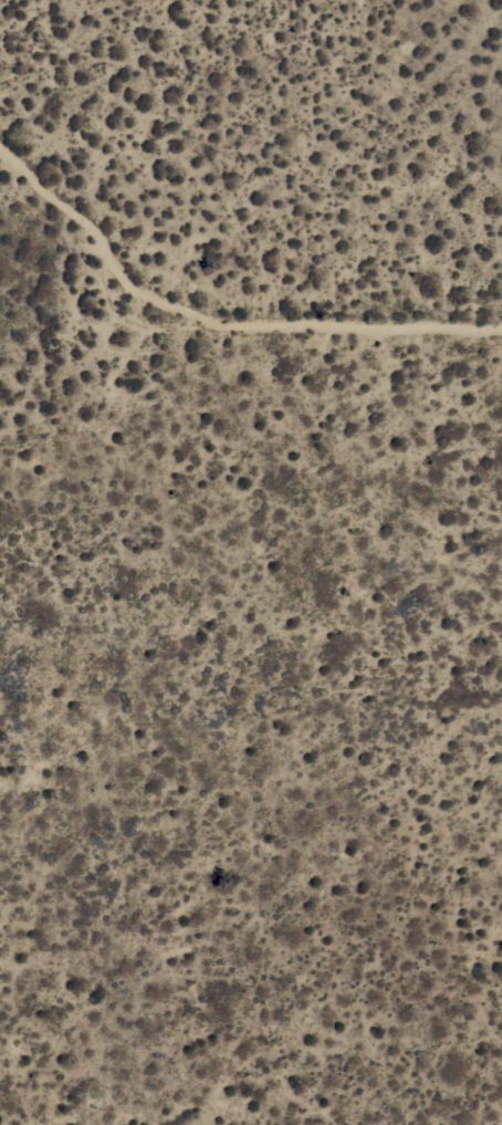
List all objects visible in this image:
road: (215, 321)

